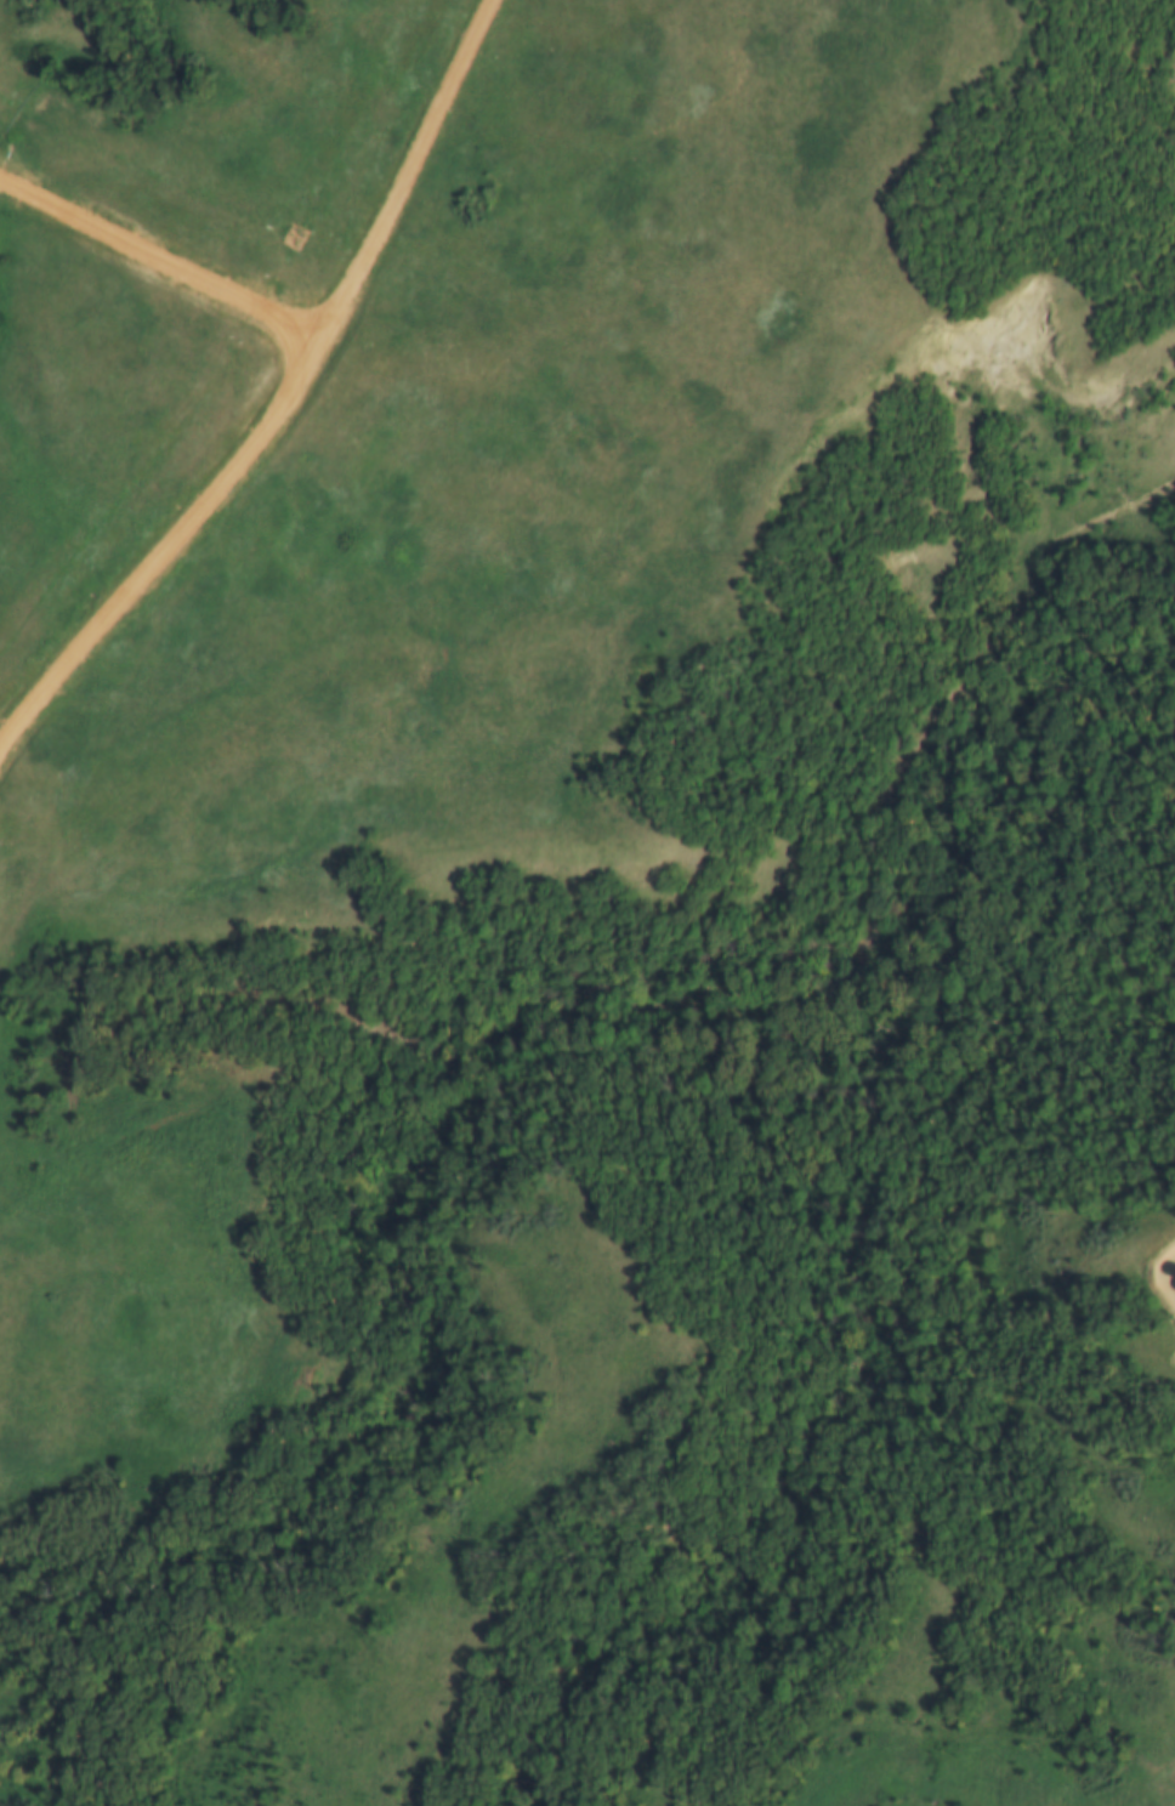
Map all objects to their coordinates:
road: (158, 252)
road: (282, 392)

